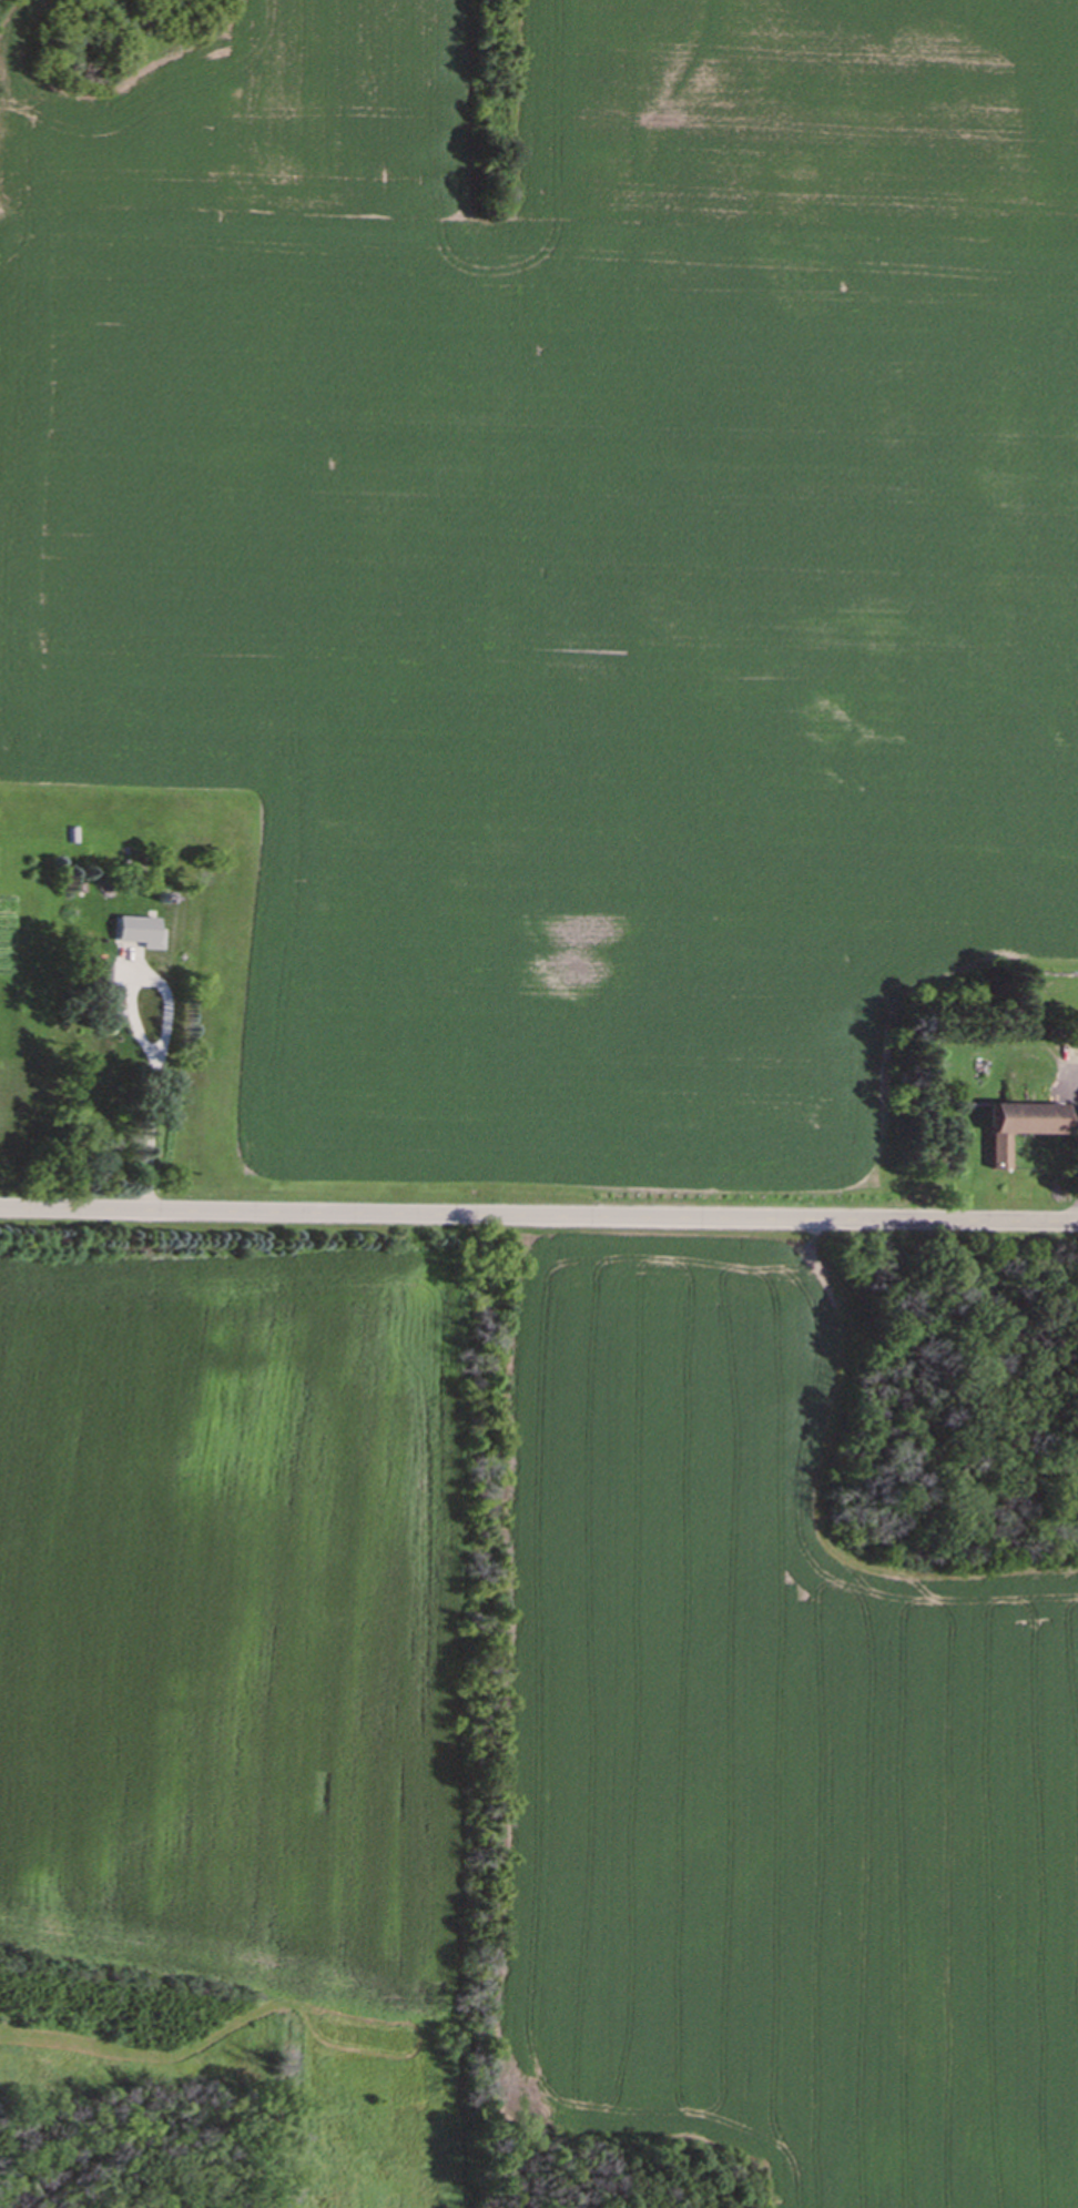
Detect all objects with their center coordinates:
crop: (559, 540)
road: (170, 1031)
building: (1017, 1118)
road: (539, 1207)
crop: (531, 1692)

